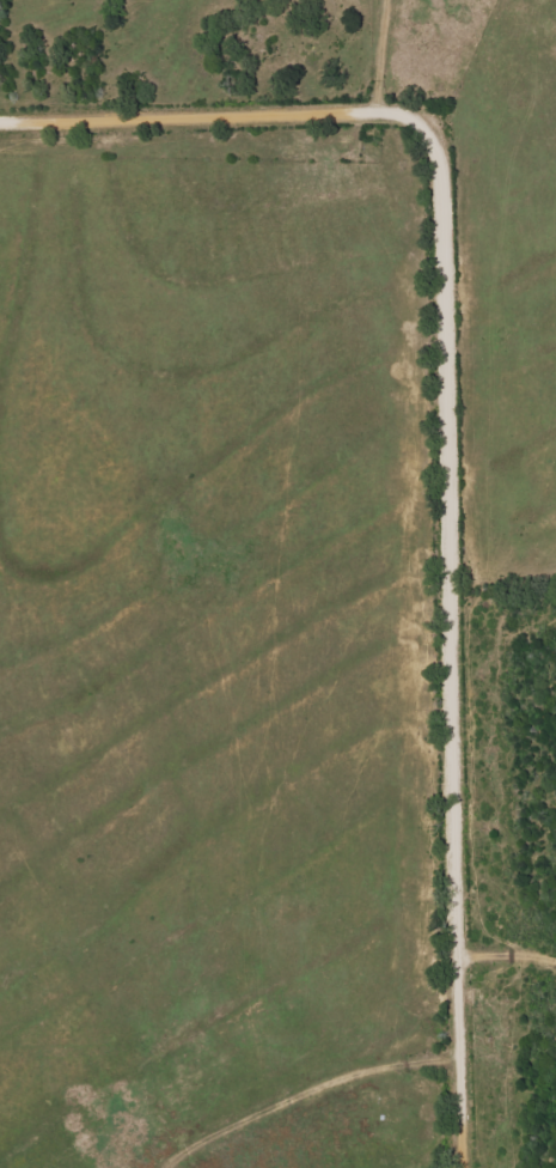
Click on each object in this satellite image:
road: (450, 431)

